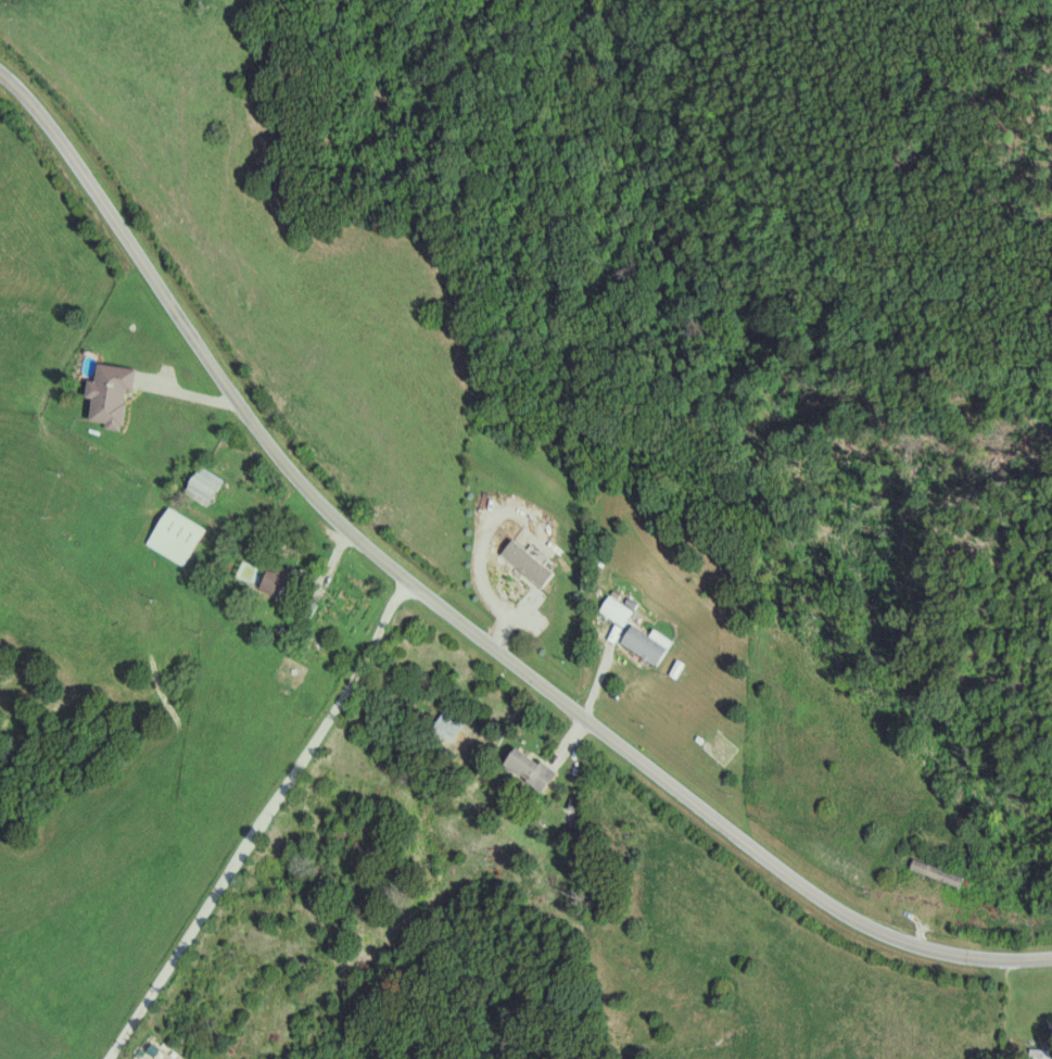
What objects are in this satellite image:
building: (114, 395)
building: (178, 535)
road: (328, 547)
building: (530, 563)
building: (281, 580)
road: (452, 605)
building: (621, 609)
building: (649, 643)
road: (597, 673)
building: (449, 723)
building: (530, 768)
road: (257, 816)
building: (939, 872)
road: (1017, 984)

